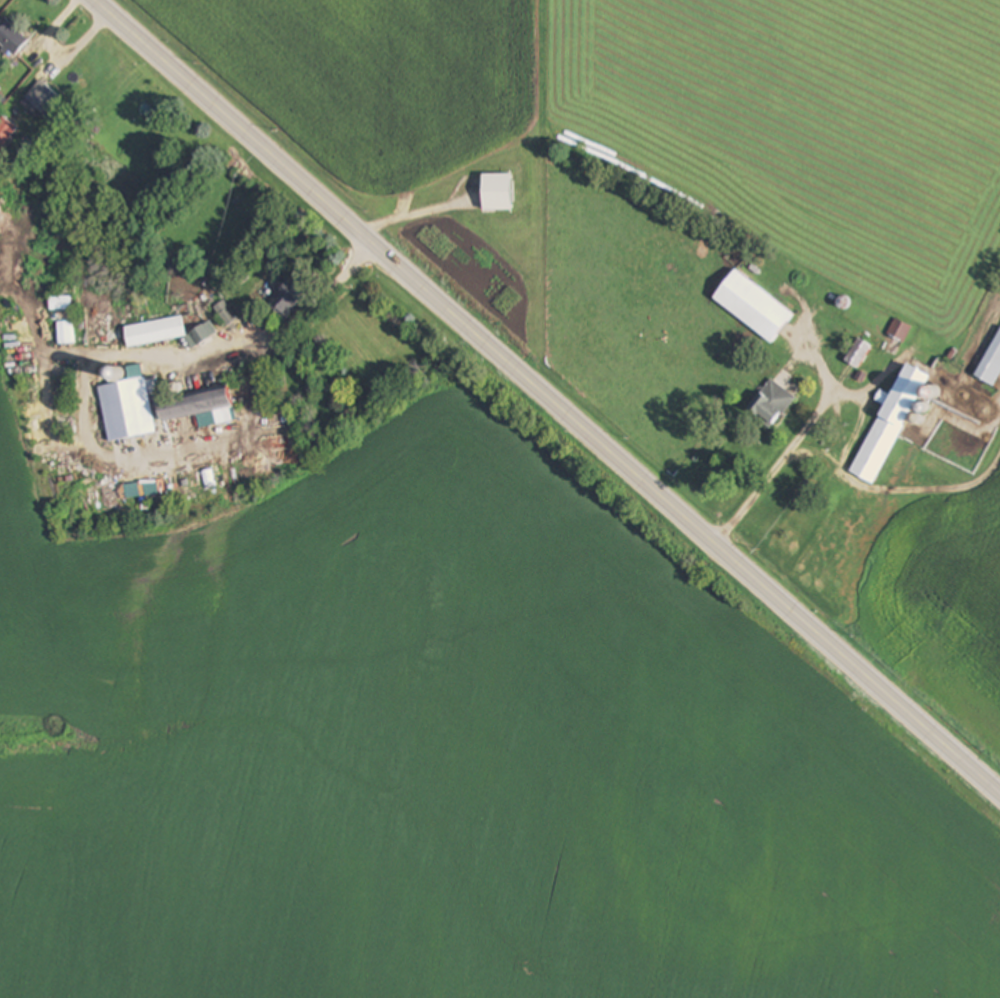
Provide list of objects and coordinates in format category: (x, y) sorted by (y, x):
building: (11, 40)
building: (46, 100)
building: (497, 193)
road: (409, 214)
building: (288, 300)
building: (61, 304)
building: (754, 306)
building: (899, 330)
building: (156, 332)
building: (64, 333)
building: (858, 353)
building: (990, 363)
road: (257, 373)
road: (542, 402)
building: (771, 404)
building: (199, 407)
building: (127, 409)
building: (889, 424)
road: (788, 453)

